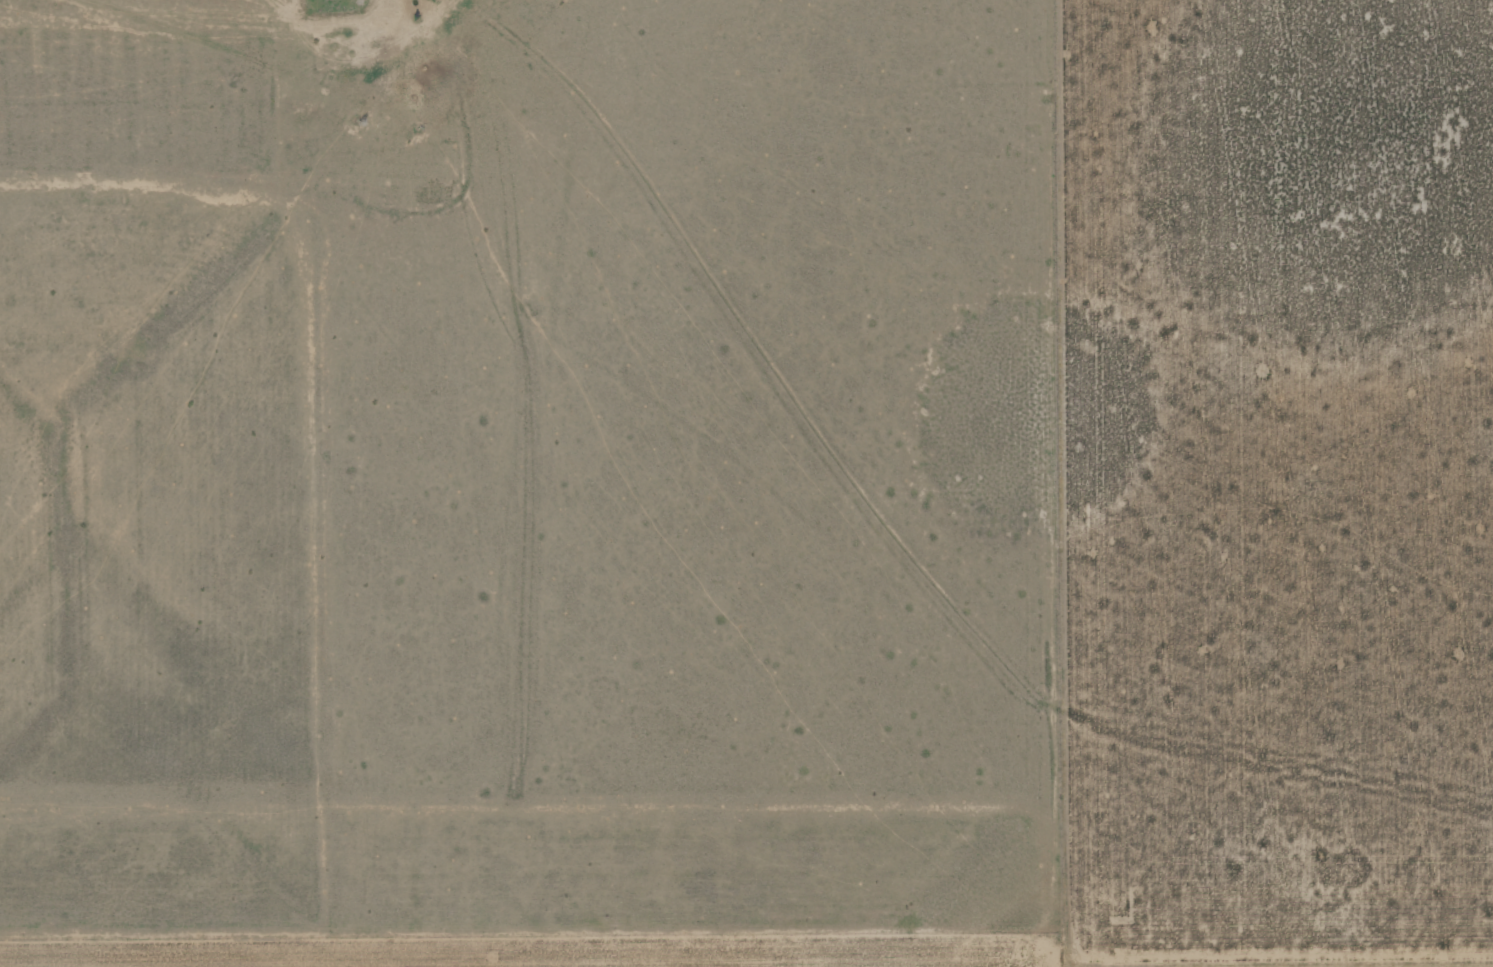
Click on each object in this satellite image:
road: (185, 110)

